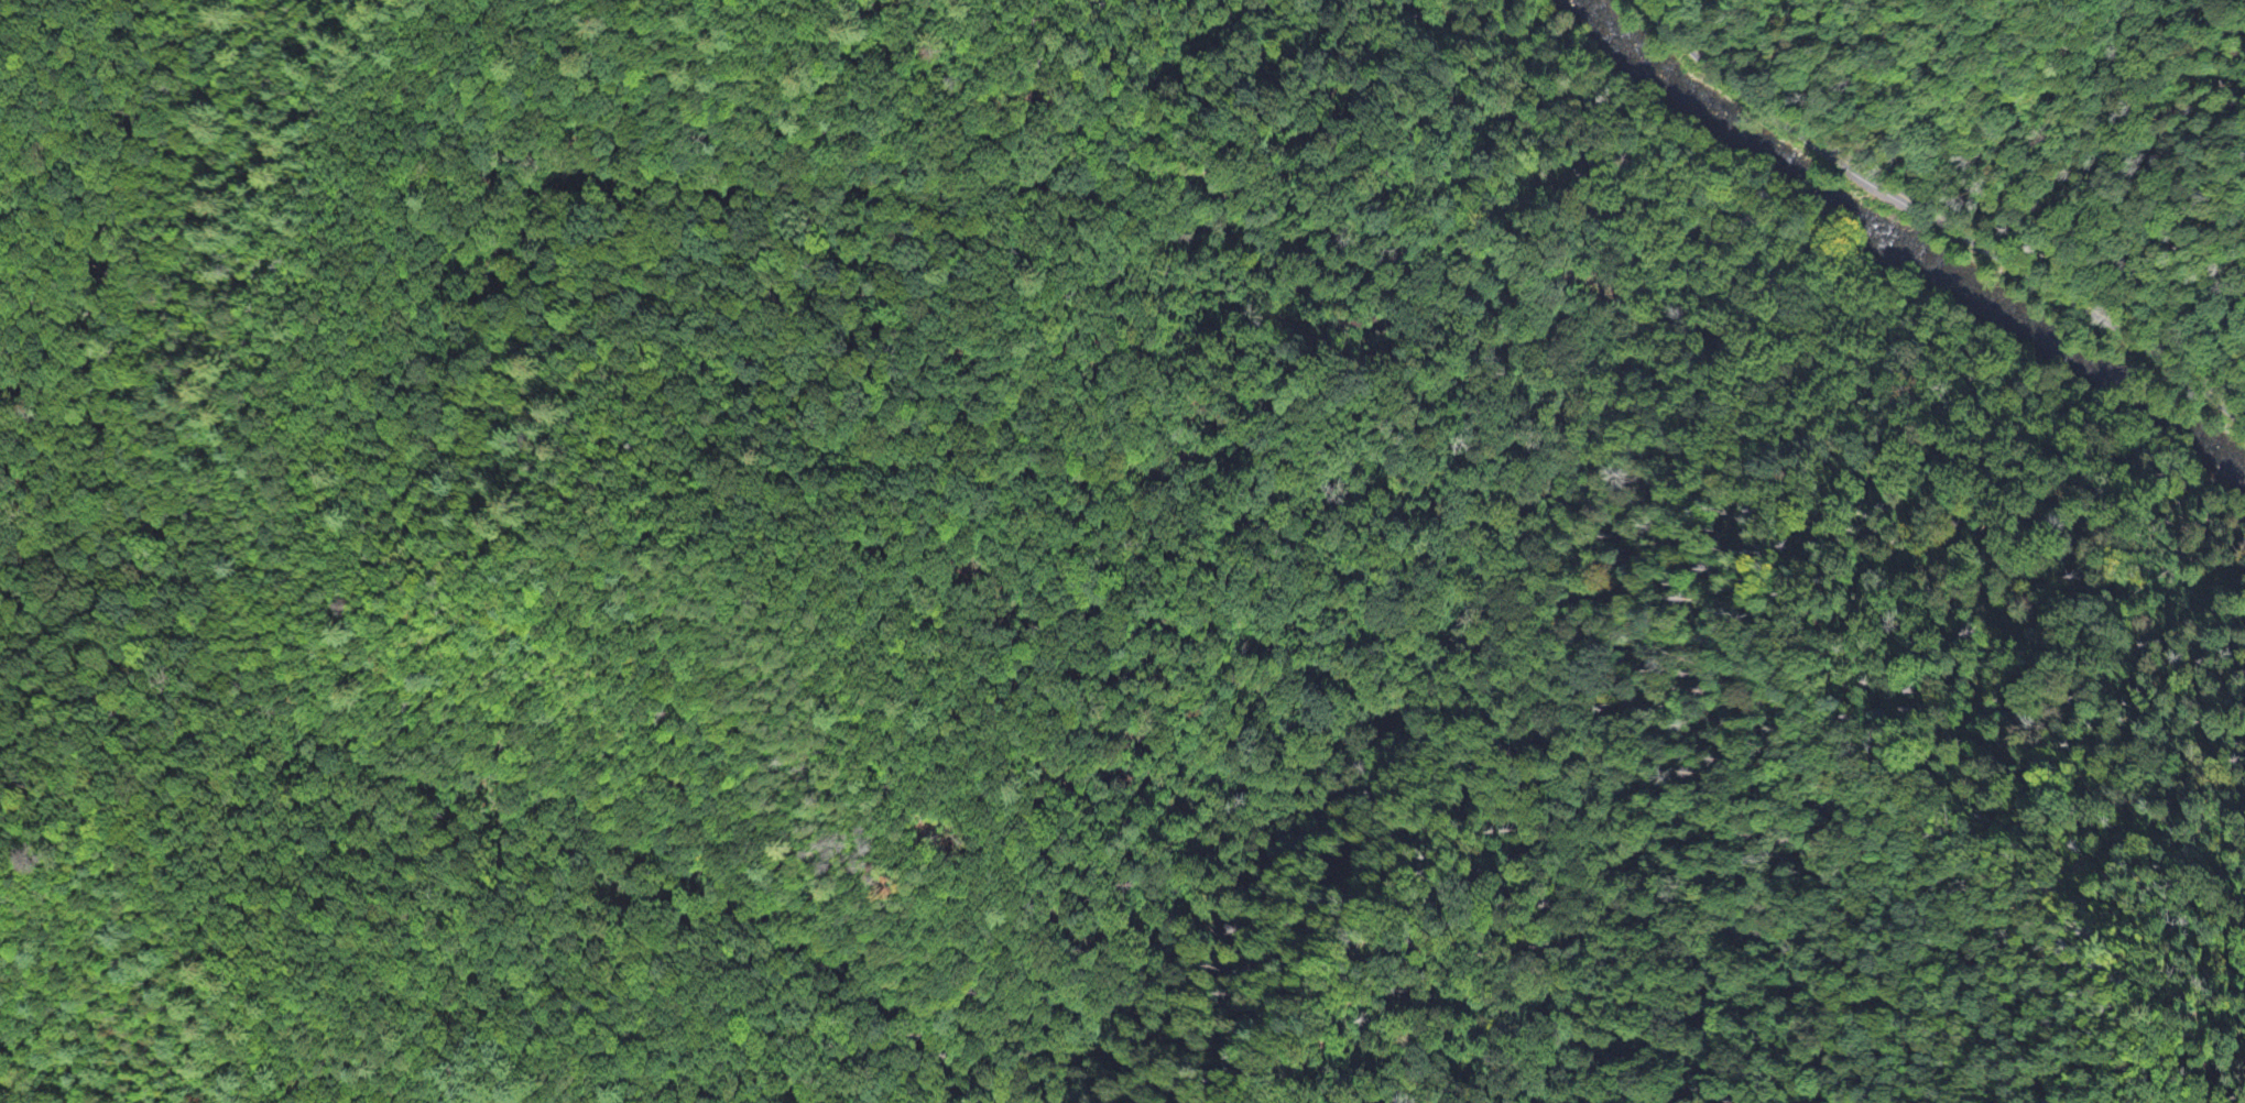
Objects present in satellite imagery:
river: (1658, 46)
road: (1939, 218)
river: (1968, 286)

